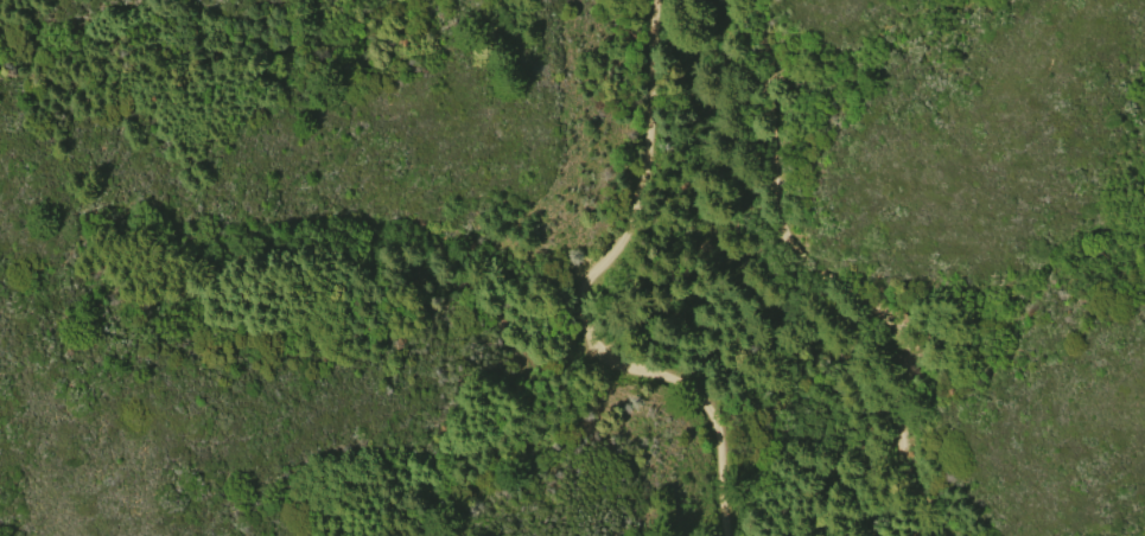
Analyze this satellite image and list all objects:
road: (826, 277)
road: (589, 292)

